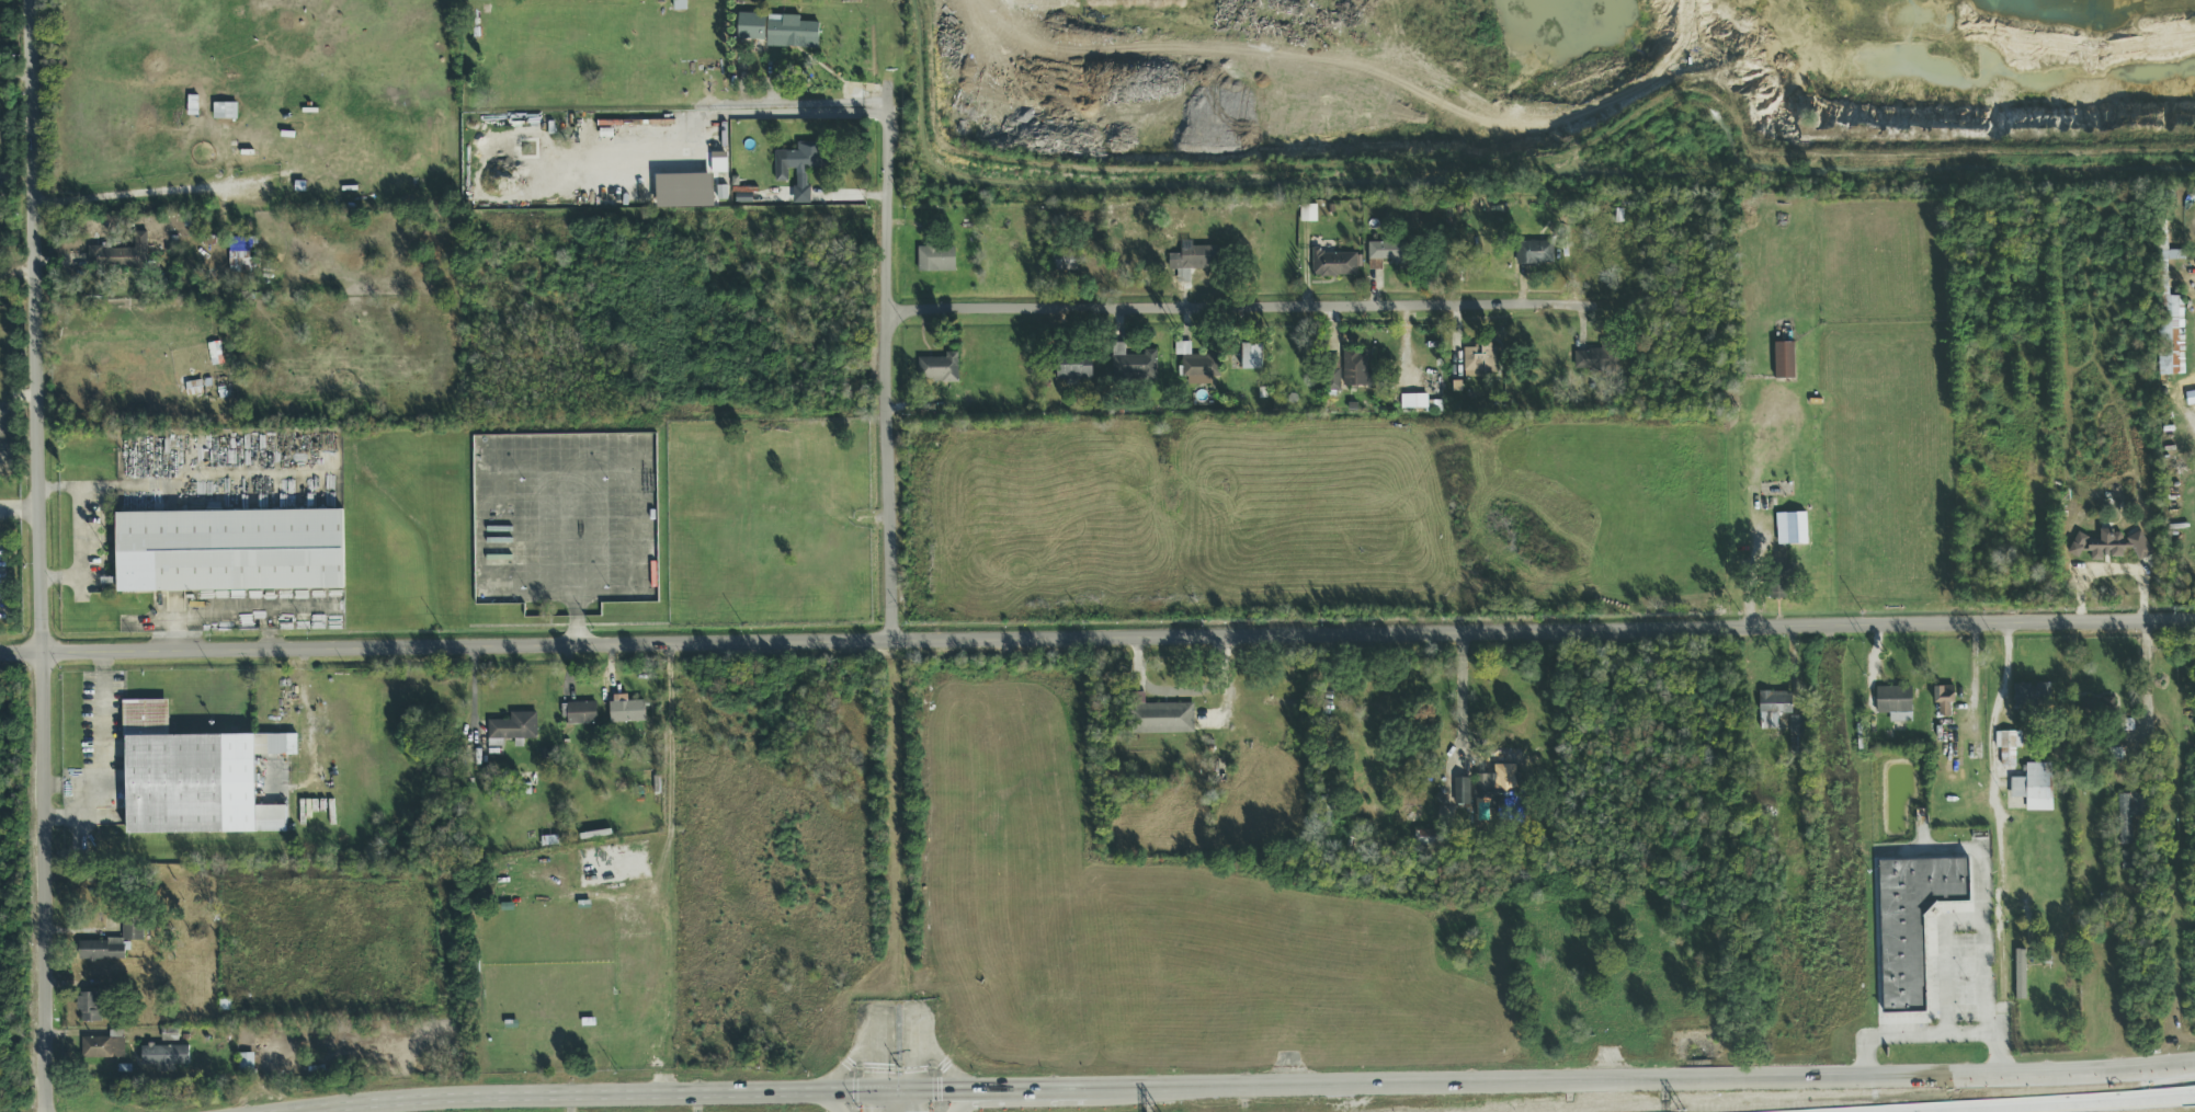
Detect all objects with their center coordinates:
building: (751, 27)
building: (793, 33)
road: (835, 105)
building: (225, 112)
building: (806, 160)
building: (718, 165)
road: (147, 192)
building: (685, 192)
building: (0, 196)
building: (1308, 214)
building: (1534, 253)
building: (122, 255)
building: (2190, 255)
building: (243, 256)
building: (1377, 256)
building: (1193, 259)
building: (1064, 262)
building: (1334, 264)
building: (941, 265)
road: (1238, 308)
building: (2168, 313)
building: (1252, 356)
building: (1599, 358)
building: (1481, 359)
building: (1784, 360)
road: (890, 363)
building: (1133, 365)
building: (1074, 367)
building: (1355, 369)
building: (939, 370)
building: (1199, 370)
building: (1332, 375)
building: (1415, 402)
road: (21, 512)
road: (1754, 523)
building: (2119, 544)
building: (230, 551)
road: (43, 555)
building: (1778, 586)
road: (1097, 635)
building: (2033, 696)
road: (2147, 697)
road: (1462, 700)
building: (1944, 700)
building: (1895, 702)
building: (1278, 703)
building: (1775, 703)
building: (2097, 708)
building: (627, 711)
building: (582, 713)
building: (1161, 719)
building: (2127, 725)
building: (514, 727)
road: (103, 745)
building: (2006, 748)
building: (177, 777)
building: (2035, 787)
building: (1462, 791)
building: (1499, 793)
building: (2128, 815)
road: (2001, 832)
building: (1433, 837)
building: (2127, 860)
road: (1980, 905)
building: (1912, 925)
building: (111, 944)
road: (1944, 966)
building: (2021, 975)
building: (91, 1008)
building: (170, 1034)
road: (1927, 1045)
building: (96, 1047)
building: (166, 1055)
building: (247, 1065)
road: (1640, 1088)
traffic signals: (940, 1090)
road: (1036, 1091)
road: (673, 1098)
road: (913, 1101)
road: (971, 1101)
road: (826, 1102)
road: (869, 1102)
road: (2077, 1104)

